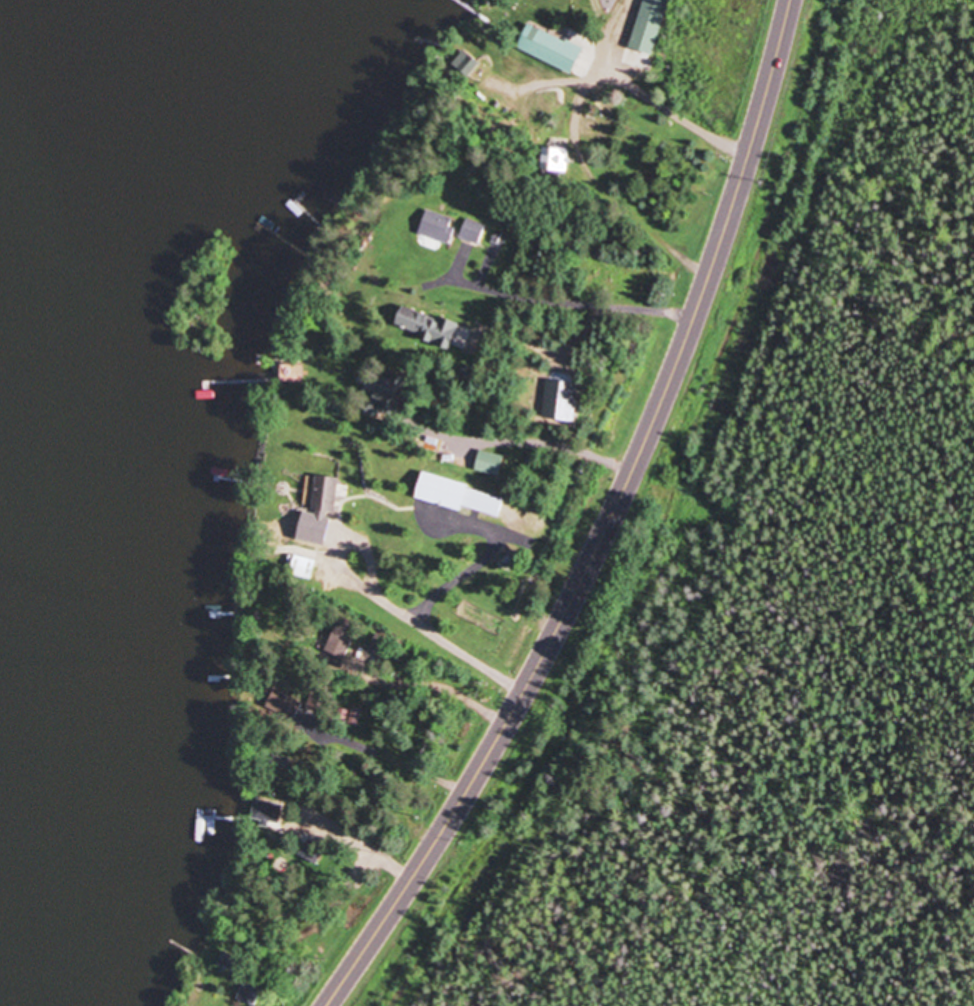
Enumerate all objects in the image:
building: (651, 25)
building: (552, 49)
building: (555, 160)
building: (440, 228)
building: (475, 232)
building: (429, 326)
building: (293, 373)
building: (393, 392)
building: (491, 463)
building: (325, 494)
building: (462, 496)
road: (607, 526)
building: (304, 568)
building: (342, 643)
building: (285, 708)
building: (269, 813)
building: (313, 852)
building: (252, 991)

